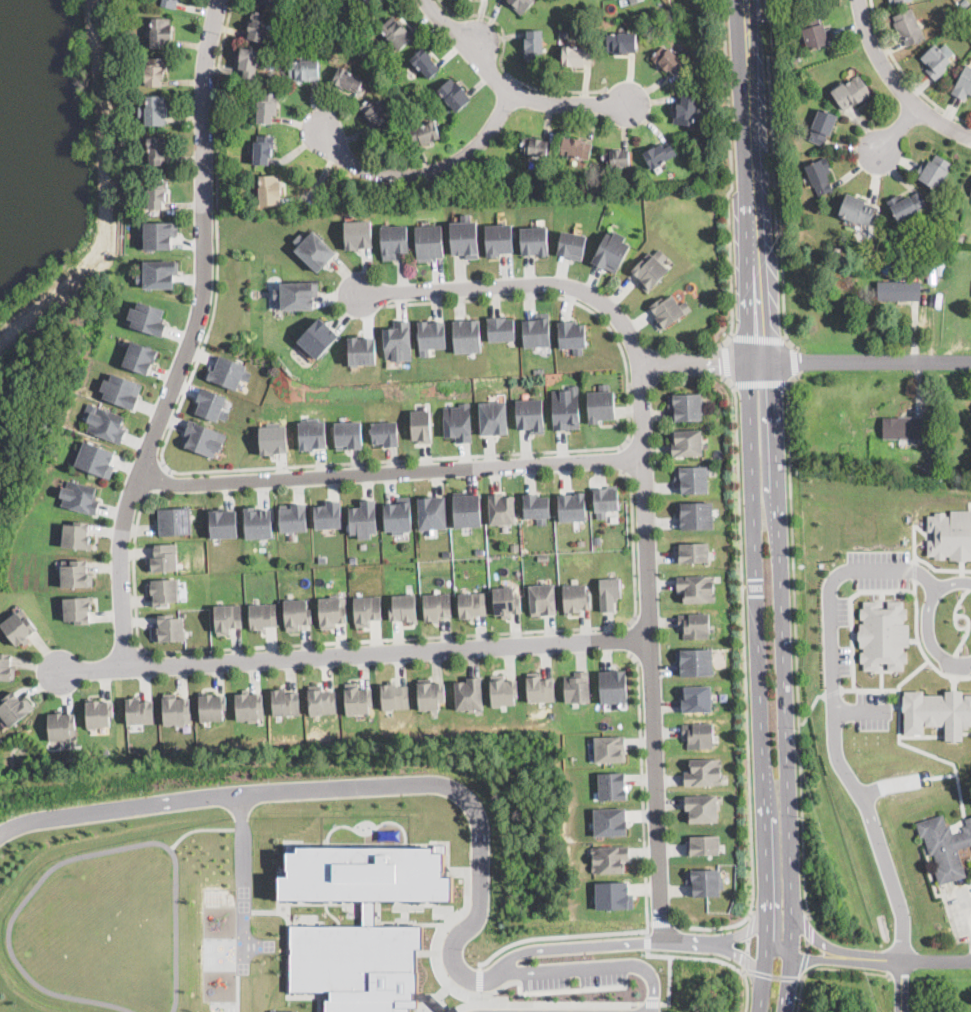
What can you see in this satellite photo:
building: (895, 0)
building: (268, 2)
building: (169, 3)
building: (374, 3)
building: (520, 5)
building: (954, 12)
building: (257, 27)
building: (907, 27)
building: (815, 32)
building: (160, 33)
building: (396, 33)
road: (477, 41)
building: (622, 42)
building: (533, 45)
building: (576, 55)
building: (795, 59)
building: (667, 60)
building: (934, 61)
building: (248, 62)
building: (424, 63)
road: (502, 65)
building: (304, 70)
building: (155, 71)
road: (905, 74)
building: (348, 80)
road: (897, 83)
building: (963, 83)
road: (509, 89)
building: (851, 92)
building: (454, 95)
building: (266, 107)
building: (154, 110)
building: (686, 110)
building: (374, 111)
building: (822, 126)
road: (898, 127)
building: (425, 132)
building: (534, 146)
building: (576, 148)
building: (263, 149)
building: (157, 150)
building: (659, 154)
building: (614, 159)
road: (424, 171)
building: (933, 171)
building: (820, 176)
road: (732, 178)
road: (775, 178)
road: (752, 181)
building: (269, 190)
building: (156, 193)
building: (970, 193)
building: (906, 204)
building: (856, 209)
building: (358, 233)
building: (160, 234)
building: (465, 236)
road: (217, 237)
building: (959, 237)
building: (499, 238)
building: (394, 239)
building: (535, 239)
building: (430, 241)
building: (572, 244)
building: (315, 249)
building: (612, 250)
building: (940, 267)
building: (650, 268)
building: (159, 273)
building: (899, 290)
building: (297, 294)
building: (668, 310)
building: (148, 317)
building: (501, 327)
building: (537, 330)
building: (467, 334)
building: (431, 335)
building: (572, 335)
building: (319, 337)
road: (191, 338)
road: (759, 339)
building: (398, 340)
park: (43, 343)
building: (362, 349)
building: (140, 356)
road: (794, 360)
road: (725, 361)
road: (865, 362)
road: (699, 363)
building: (228, 371)
road: (761, 382)
building: (121, 389)
building: (601, 403)
building: (211, 404)
building: (687, 404)
building: (565, 407)
building: (530, 413)
building: (493, 417)
building: (458, 421)
building: (107, 423)
building: (420, 425)
building: (904, 429)
building: (312, 432)
building: (385, 432)
building: (348, 434)
building: (203, 437)
building: (273, 437)
building: (687, 442)
road: (574, 450)
building: (936, 456)
building: (96, 458)
road: (624, 460)
building: (70, 462)
building: (934, 470)
road: (389, 472)
building: (693, 477)
road: (160, 480)
road: (643, 491)
building: (79, 496)
building: (605, 499)
building: (572, 505)
building: (537, 506)
building: (467, 508)
building: (502, 508)
building: (432, 511)
building: (328, 513)
building: (695, 514)
building: (398, 515)
building: (293, 516)
building: (363, 518)
building: (175, 520)
building: (223, 522)
building: (258, 522)
building: (77, 534)
road: (914, 534)
building: (950, 534)
building: (597, 539)
building: (581, 541)
building: (514, 546)
building: (480, 550)
building: (692, 551)
building: (164, 556)
building: (543, 556)
building: (322, 558)
building: (353, 559)
road: (940, 568)
road: (914, 570)
building: (76, 572)
building: (697, 587)
building: (165, 590)
building: (609, 591)
building: (542, 598)
building: (576, 598)
building: (505, 600)
building: (472, 604)
building: (437, 605)
building: (403, 607)
building: (78, 608)
building: (333, 609)
building: (367, 609)
road: (849, 609)
building: (297, 612)
building: (263, 615)
building: (228, 617)
road: (926, 621)
building: (695, 624)
building: (19, 626)
building: (169, 628)
building: (883, 634)
road: (378, 639)
road: (632, 639)
road: (744, 644)
road: (796, 644)
road: (919, 644)
road: (353, 654)
building: (695, 661)
building: (6, 666)
road: (910, 672)
road: (763, 685)
road: (783, 685)
building: (576, 686)
building: (612, 686)
building: (539, 687)
road: (869, 688)
building: (502, 690)
road: (831, 691)
building: (469, 693)
building: (395, 694)
building: (430, 694)
building: (358, 698)
building: (696, 698)
building: (321, 700)
building: (284, 702)
building: (212, 706)
building: (249, 706)
building: (15, 707)
road: (810, 707)
building: (175, 709)
building: (139, 710)
road: (861, 710)
building: (937, 711)
building: (99, 712)
road: (835, 721)
building: (62, 725)
building: (699, 733)
building: (608, 747)
building: (176, 748)
building: (106, 750)
road: (925, 751)
building: (703, 771)
road: (643, 778)
road: (444, 783)
building: (613, 784)
building: (702, 807)
building: (610, 821)
road: (198, 827)
building: (703, 843)
building: (945, 847)
road: (73, 856)
building: (609, 858)
building: (367, 873)
building: (704, 881)
road: (278, 889)
building: (612, 895)
road: (966, 909)
building: (369, 912)
road: (645, 920)
road: (659, 921)
road: (712, 926)
road: (740, 931)
road: (556, 935)
road: (815, 936)
road: (438, 938)
road: (646, 940)
road: (688, 941)
road: (747, 944)
road: (572, 945)
road: (808, 946)
road: (776, 952)
road: (739, 955)
road: (693, 956)
road: (812, 956)
road: (288, 957)
road: (904, 960)
building: (357, 965)
road: (830, 968)
road: (773, 975)
road: (477, 979)
road: (667, 982)
road: (900, 986)
road: (545, 990)
road: (748, 991)
road: (237, 992)
road: (554, 1002)
road: (650, 1002)
road: (463, 1004)
building: (283, 1010)

